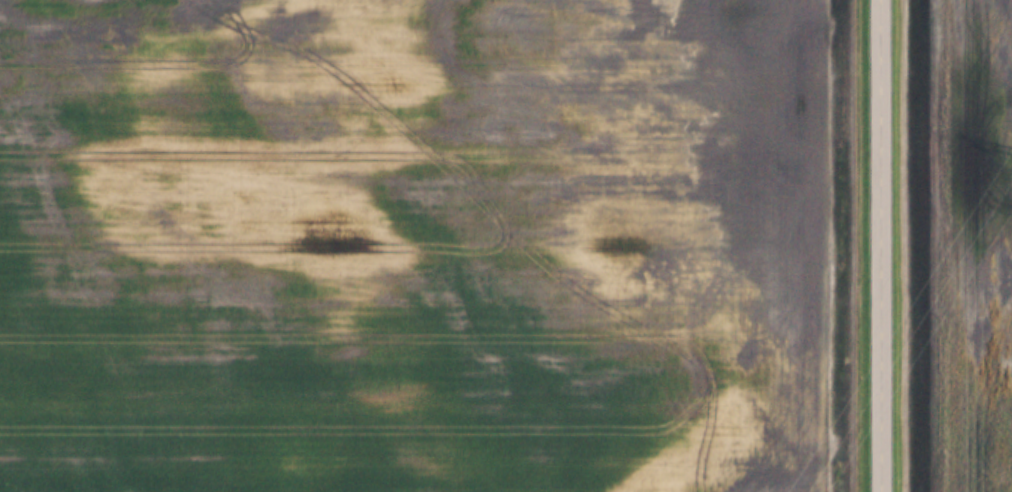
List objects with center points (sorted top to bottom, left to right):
road: (884, 245)
crop: (972, 245)
crop: (414, 246)

